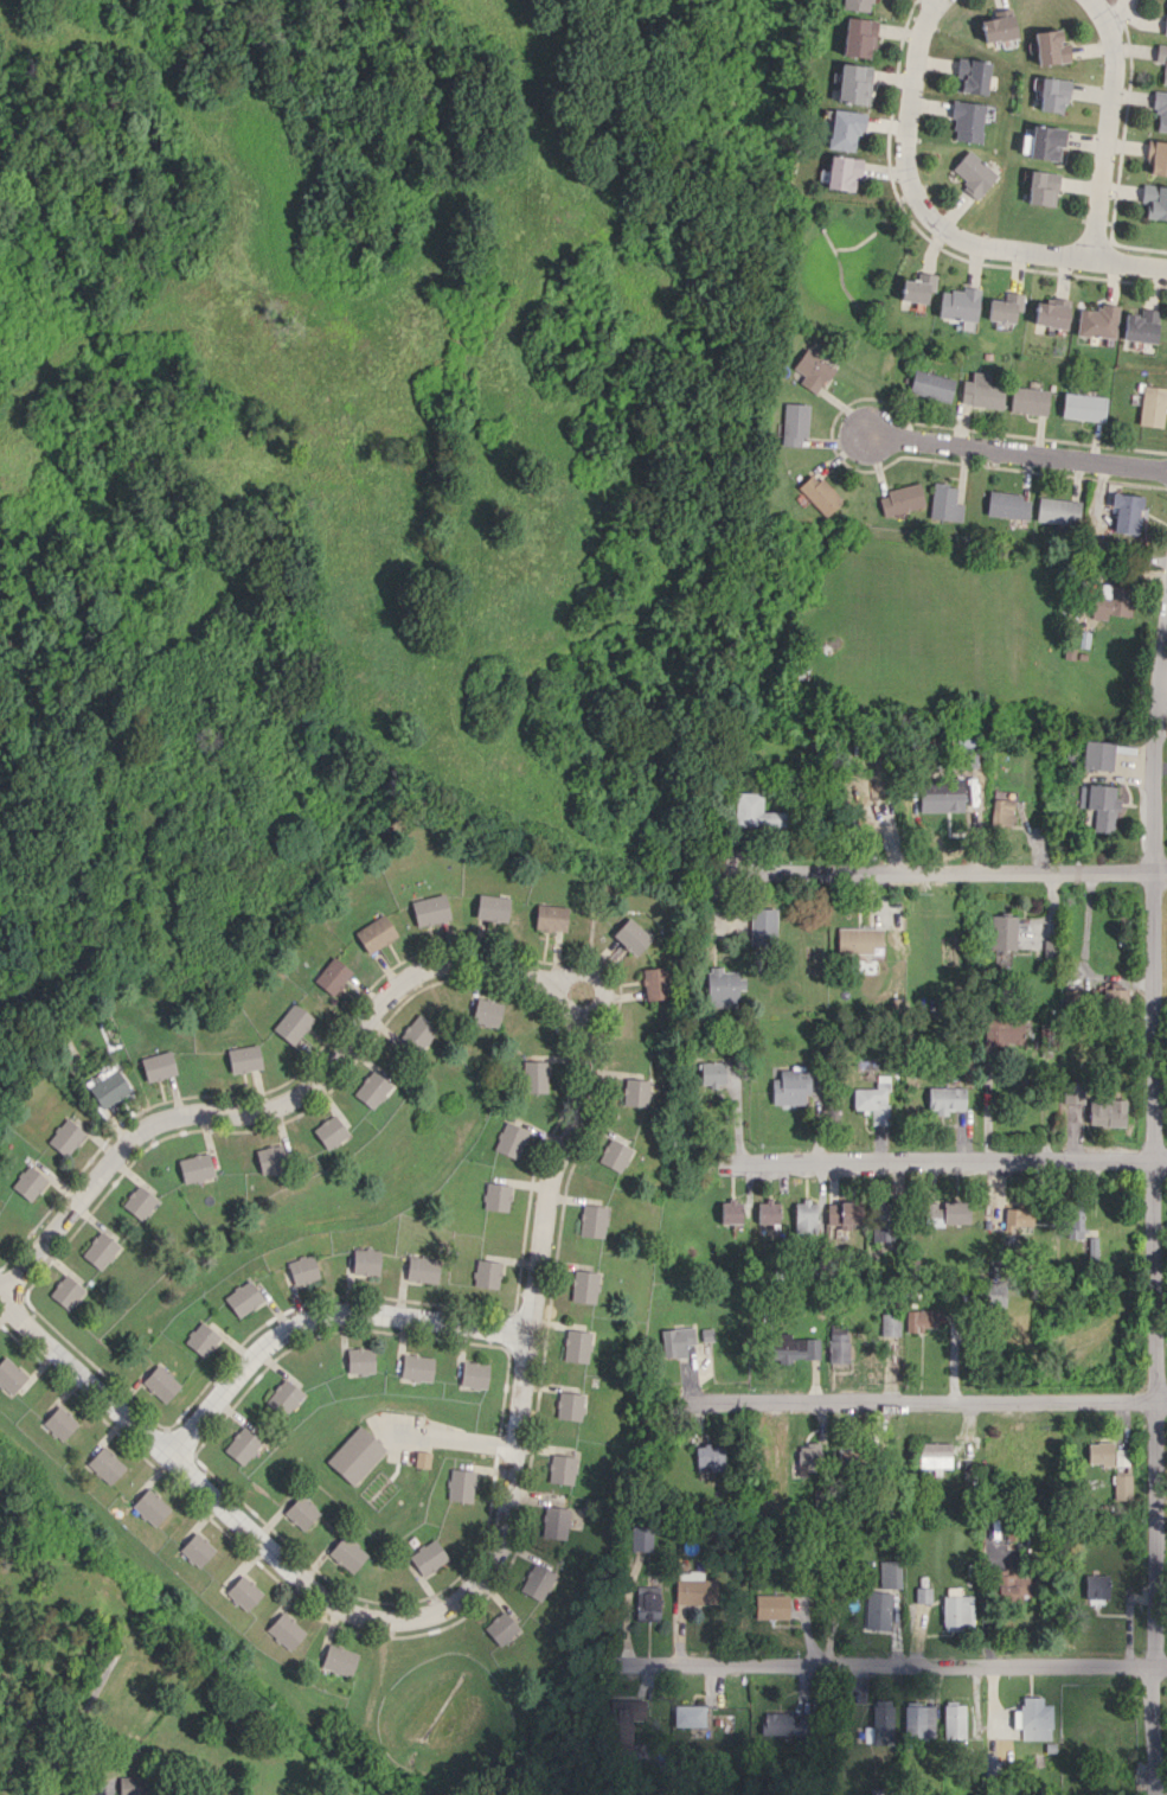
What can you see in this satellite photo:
road: (935, 0)
building: (857, 5)
road: (1117, 12)
building: (998, 26)
building: (857, 37)
building: (1050, 47)
building: (1162, 60)
building: (972, 75)
building: (852, 83)
building: (1052, 94)
building: (1161, 109)
building: (967, 120)
road: (1108, 126)
building: (844, 128)
building: (1045, 142)
building: (1158, 158)
building: (840, 172)
building: (973, 174)
building: (1041, 187)
road: (912, 193)
building: (1154, 200)
road: (1128, 262)
building: (917, 287)
building: (957, 304)
building: (1004, 307)
building: (1051, 313)
building: (1097, 321)
building: (1140, 326)
building: (810, 370)
building: (930, 385)
building: (981, 391)
building: (1028, 401)
building: (1150, 405)
building: (1083, 407)
building: (793, 423)
road: (1018, 453)
building: (820, 494)
building: (900, 499)
building: (944, 503)
building: (1007, 505)
building: (1057, 510)
building: (1126, 513)
building: (1110, 601)
road: (1155, 711)
building: (966, 752)
building: (1097, 755)
building: (940, 794)
building: (1099, 805)
building: (755, 811)
building: (1001, 811)
road: (941, 867)
building: (492, 907)
building: (430, 909)
building: (551, 916)
building: (762, 926)
building: (1002, 932)
building: (376, 933)
building: (633, 937)
building: (857, 939)
building: (332, 976)
road: (601, 977)
building: (654, 983)
building: (723, 986)
building: (1114, 996)
building: (486, 1011)
building: (293, 1023)
road: (582, 1027)
building: (1002, 1031)
building: (416, 1034)
building: (244, 1059)
building: (159, 1066)
building: (712, 1073)
building: (534, 1075)
building: (790, 1086)
building: (109, 1088)
building: (371, 1088)
building: (635, 1092)
building: (1072, 1093)
building: (944, 1099)
building: (872, 1100)
building: (1103, 1110)
building: (329, 1131)
road: (145, 1132)
building: (66, 1137)
building: (509, 1139)
building: (614, 1155)
building: (270, 1158)
road: (942, 1162)
building: (195, 1168)
building: (28, 1182)
building: (496, 1196)
building: (140, 1202)
building: (730, 1212)
building: (767, 1212)
building: (945, 1212)
building: (842, 1214)
building: (804, 1216)
building: (1017, 1218)
building: (591, 1220)
building: (883, 1221)
building: (1075, 1221)
building: (1091, 1247)
building: (102, 1250)
building: (365, 1261)
building: (303, 1269)
building: (422, 1269)
building: (487, 1273)
building: (583, 1286)
building: (66, 1291)
building: (243, 1298)
road: (1152, 1298)
road: (320, 1314)
building: (919, 1320)
building: (890, 1324)
building: (201, 1339)
building: (677, 1341)
building: (838, 1343)
building: (576, 1346)
building: (793, 1347)
building: (359, 1360)
building: (416, 1367)
building: (473, 1374)
building: (9, 1375)
building: (160, 1382)
building: (283, 1397)
road: (932, 1399)
building: (568, 1405)
building: (59, 1423)
building: (242, 1445)
building: (1099, 1452)
building: (355, 1455)
building: (935, 1455)
building: (808, 1457)
building: (708, 1458)
building: (104, 1464)
building: (559, 1469)
building: (460, 1484)
building: (1122, 1487)
building: (150, 1507)
building: (301, 1512)
building: (553, 1522)
building: (640, 1538)
building: (197, 1550)
building: (346, 1553)
building: (428, 1557)
building: (890, 1573)
building: (536, 1582)
building: (1009, 1585)
building: (1096, 1586)
building: (693, 1589)
building: (243, 1592)
road: (319, 1593)
building: (922, 1595)
building: (646, 1603)
building: (770, 1606)
building: (878, 1610)
building: (957, 1610)
building: (500, 1628)
building: (284, 1630)
building: (338, 1660)
road: (897, 1668)
building: (688, 1716)
building: (1033, 1718)
building: (918, 1720)
building: (953, 1721)
building: (881, 1723)
building: (623, 1724)
building: (782, 1724)
building: (129, 1786)

